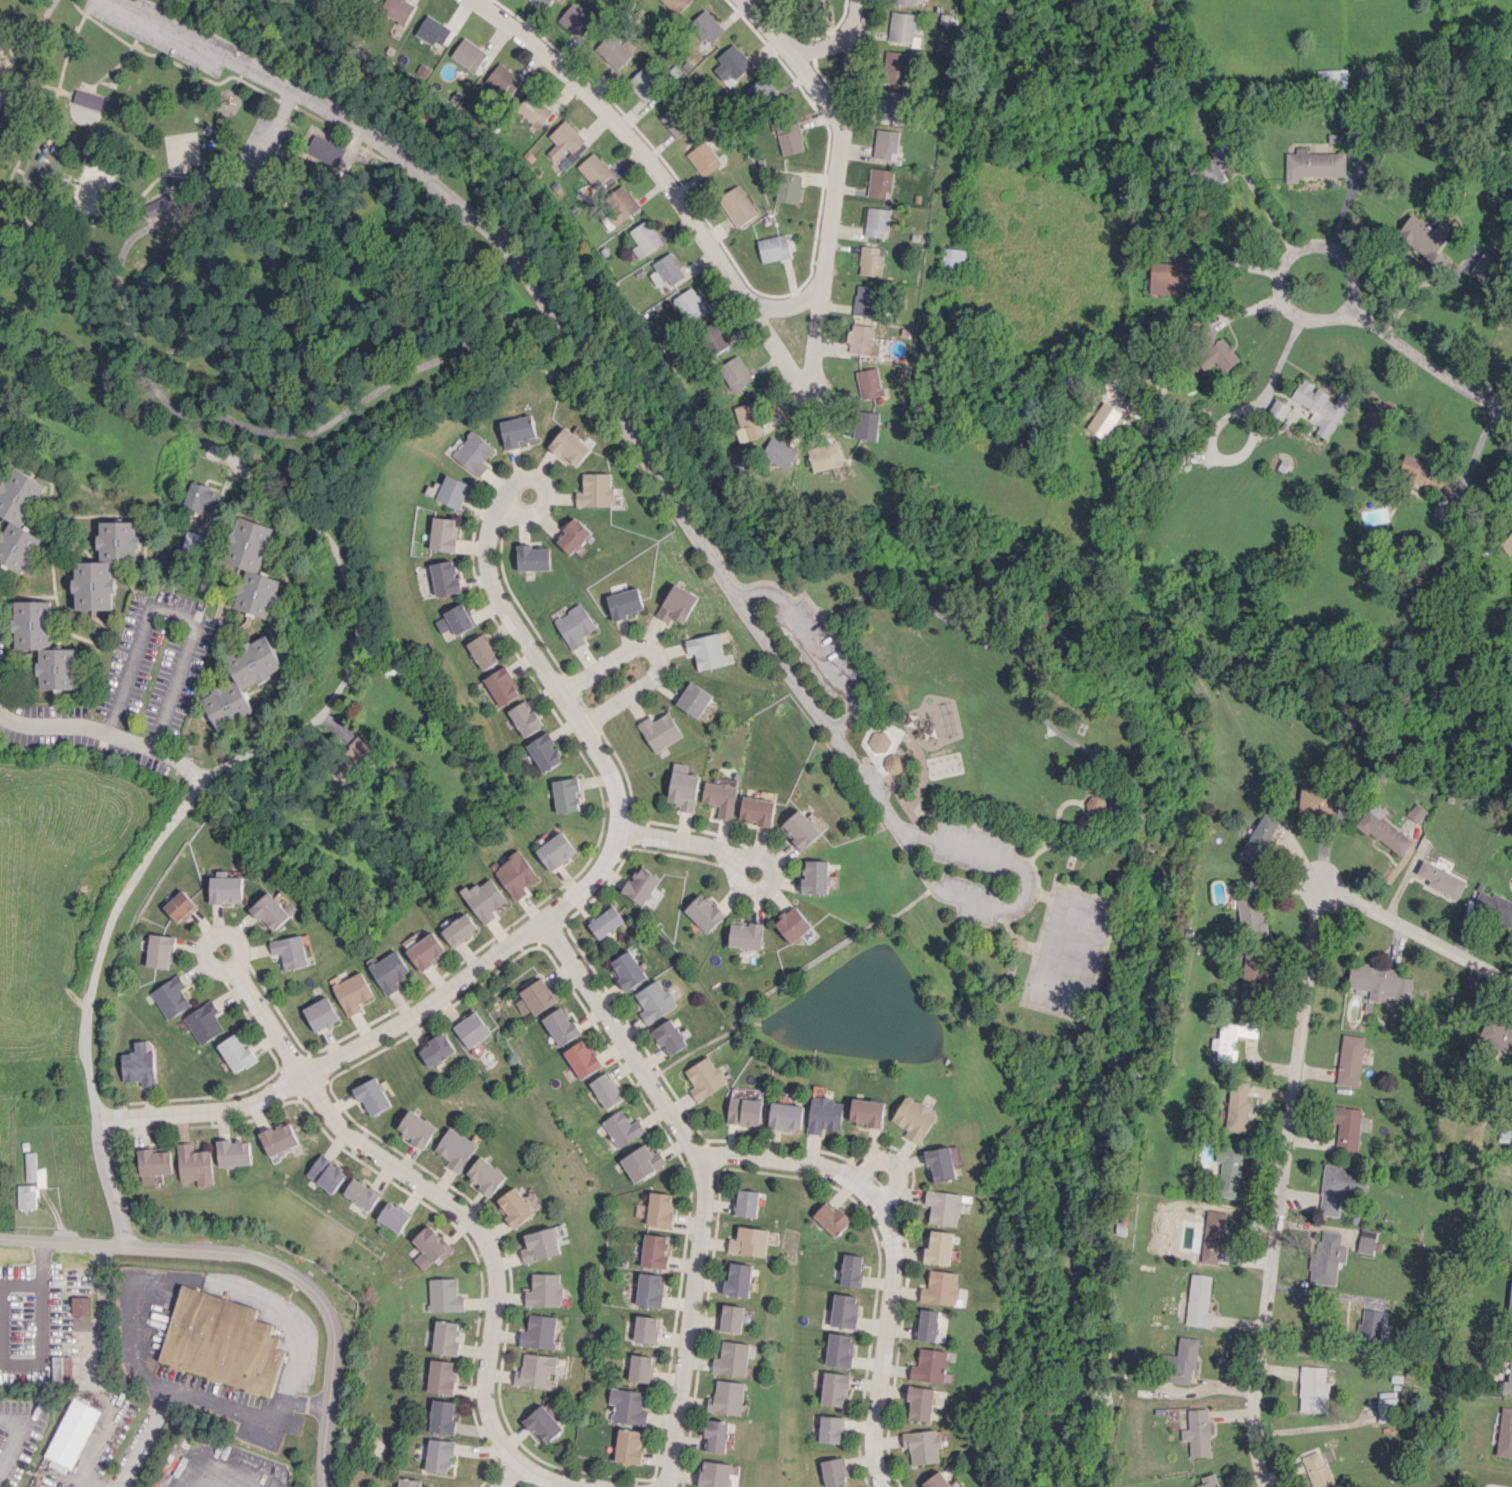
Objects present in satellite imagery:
building: (797, 0)
building: (541, 2)
building: (905, 2)
building: (675, 5)
road: (79, 7)
building: (397, 9)
building: (575, 20)
parking lot: (185, 26)
building: (706, 26)
building: (901, 26)
building: (433, 31)
parking lot: (154, 39)
road: (14, 42)
road: (829, 45)
building: (613, 51)
building: (468, 54)
road: (23, 58)
road: (801, 60)
park: (6, 62)
building: (731, 63)
building: (894, 67)
building: (1331, 77)
building: (503, 79)
building: (644, 84)
road: (6, 89)
road: (63, 91)
building: (761, 93)
building: (85, 97)
building: (891, 105)
building: (533, 110)
road: (311, 115)
parking lot: (364, 121)
building: (672, 122)
road: (273, 129)
road: (26, 138)
building: (789, 138)
building: (566, 143)
building: (885, 143)
water park: (209, 144)
parking lot: (264, 146)
building: (321, 147)
building: (703, 158)
building: (1312, 164)
building: (1215, 166)
road: (328, 167)
building: (594, 170)
road: (656, 170)
road: (198, 171)
building: (879, 183)
park: (93, 186)
building: (788, 187)
road: (835, 189)
road: (455, 192)
road: (200, 195)
building: (621, 204)
building: (737, 205)
building: (162, 208)
building: (875, 222)
road: (14, 230)
building: (644, 238)
building: (1425, 240)
building: (773, 248)
building: (953, 259)
building: (871, 261)
road: (1285, 261)
building: (1484, 265)
road: (475, 270)
building: (666, 270)
building: (1170, 275)
building: (866, 301)
building: (690, 304)
road: (788, 305)
building: (713, 337)
building: (861, 340)
road: (571, 341)
building: (1214, 352)
road: (1424, 366)
building: (734, 373)
building: (868, 383)
building: (1320, 406)
building: (1278, 409)
road: (630, 418)
building: (748, 421)
building: (865, 425)
road: (270, 431)
building: (518, 431)
building: (570, 446)
building: (779, 452)
building: (473, 453)
building: (824, 456)
building: (596, 490)
building: (452, 491)
road: (543, 493)
building: (200, 496)
park: (691, 496)
building: (18, 519)
building: (442, 534)
building: (573, 535)
building: (193, 544)
building: (1507, 544)
building: (532, 558)
building: (104, 565)
building: (251, 567)
building: (444, 578)
building: (625, 603)
building: (677, 604)
road: (174, 613)
building: (455, 619)
road: (827, 621)
building: (575, 625)
road: (363, 632)
road: (817, 644)
building: (43, 645)
parking lot: (813, 646)
building: (706, 650)
road: (655, 651)
building: (482, 652)
road: (860, 668)
building: (240, 681)
building: (501, 686)
building: (694, 699)
road: (1041, 712)
building: (525, 718)
building: (660, 731)
road: (104, 733)
road: (915, 747)
building: (544, 751)
building: (353, 759)
building: (893, 763)
road: (895, 763)
road: (884, 776)
building: (683, 787)
building: (566, 794)
building: (720, 798)
building: (1316, 803)
building: (757, 810)
building: (1091, 811)
building: (1416, 812)
road: (975, 824)
building: (800, 830)
building: (1383, 830)
building: (1259, 838)
road: (681, 842)
parking lot: (971, 848)
building: (556, 850)
road: (147, 859)
road: (742, 862)
road: (1313, 867)
building: (516, 874)
building: (815, 877)
building: (1441, 879)
building: (641, 884)
building: (225, 889)
road: (1035, 893)
road: (1017, 894)
road: (1042, 896)
parking lot: (973, 898)
building: (484, 899)
building: (179, 906)
building: (1493, 907)
building: (1251, 909)
building: (270, 911)
building: (704, 912)
road: (539, 921)
building: (606, 922)
building: (792, 924)
building: (459, 929)
building: (746, 935)
park: (1069, 949)
building: (159, 950)
building: (290, 951)
building: (427, 951)
building: (627, 970)
building: (390, 971)
building: (1249, 972)
road: (236, 974)
road: (792, 975)
building: (1379, 981)
building: (353, 992)
building: (538, 995)
building: (170, 996)
building: (654, 1001)
building: (322, 1014)
building: (204, 1022)
building: (559, 1026)
building: (471, 1029)
building: (668, 1036)
building: (1496, 1036)
building: (1231, 1039)
road: (618, 1040)
building: (437, 1049)
building: (236, 1052)
building: (581, 1059)
building: (1349, 1060)
building: (139, 1065)
road: (650, 1076)
building: (704, 1078)
road: (1292, 1086)
building: (604, 1091)
road: (92, 1094)
building: (372, 1095)
building: (1237, 1106)
building: (743, 1110)
building: (866, 1112)
building: (824, 1114)
building: (785, 1116)
building: (914, 1118)
building: (415, 1128)
building: (621, 1128)
building: (1346, 1129)
building: (279, 1138)
building: (454, 1148)
building: (233, 1153)
building: (154, 1162)
building: (641, 1162)
road: (891, 1163)
building: (194, 1164)
building: (939, 1164)
building: (35, 1170)
building: (1228, 1170)
building: (326, 1173)
building: (485, 1175)
building: (1335, 1187)
building: (360, 1194)
building: (27, 1196)
building: (746, 1203)
building: (513, 1206)
building: (658, 1209)
building: (392, 1217)
building: (831, 1218)
building: (1211, 1236)
building: (748, 1241)
building: (1368, 1241)
building: (538, 1245)
building: (428, 1246)
building: (938, 1247)
road: (891, 1248)
building: (653, 1250)
building: (1327, 1257)
road: (261, 1258)
building: (850, 1270)
road: (491, 1271)
building: (737, 1280)
building: (940, 1288)
building: (543, 1290)
building: (648, 1290)
building: (443, 1295)
building: (1198, 1301)
building: (1510, 1304)
building: (81, 1305)
building: (843, 1311)
building: (731, 1318)
road: (687, 1323)
building: (927, 1325)
building: (1371, 1326)
building: (644, 1328)
building: (538, 1332)
building: (444, 1337)
building: (221, 1342)
building: (838, 1350)
building: (731, 1358)
building: (1180, 1361)
building: (928, 1366)
building: (639, 1368)
building: (62, 1369)
building: (535, 1370)
building: (440, 1377)
building: (1508, 1379)
building: (833, 1388)
building: (1313, 1389)
building: (726, 1397)
building: (919, 1403)
building: (627, 1406)
road: (241, 1410)
building: (1386, 1410)
building: (442, 1416)
building: (542, 1424)
building: (830, 1429)
building: (72, 1432)
building: (1197, 1432)
building: (1505, 1433)
building: (716, 1435)
road: (17, 1439)
building: (628, 1446)
building: (921, 1446)
road: (138, 1447)
building: (439, 1455)
building: (1317, 1470)
building: (833, 1471)
road: (507, 1474)
building: (715, 1474)
road: (213, 1480)
building: (935, 1481)
building: (1208, 1481)
building: (408, 1482)
building: (25, 1486)
building: (36, 1486)

